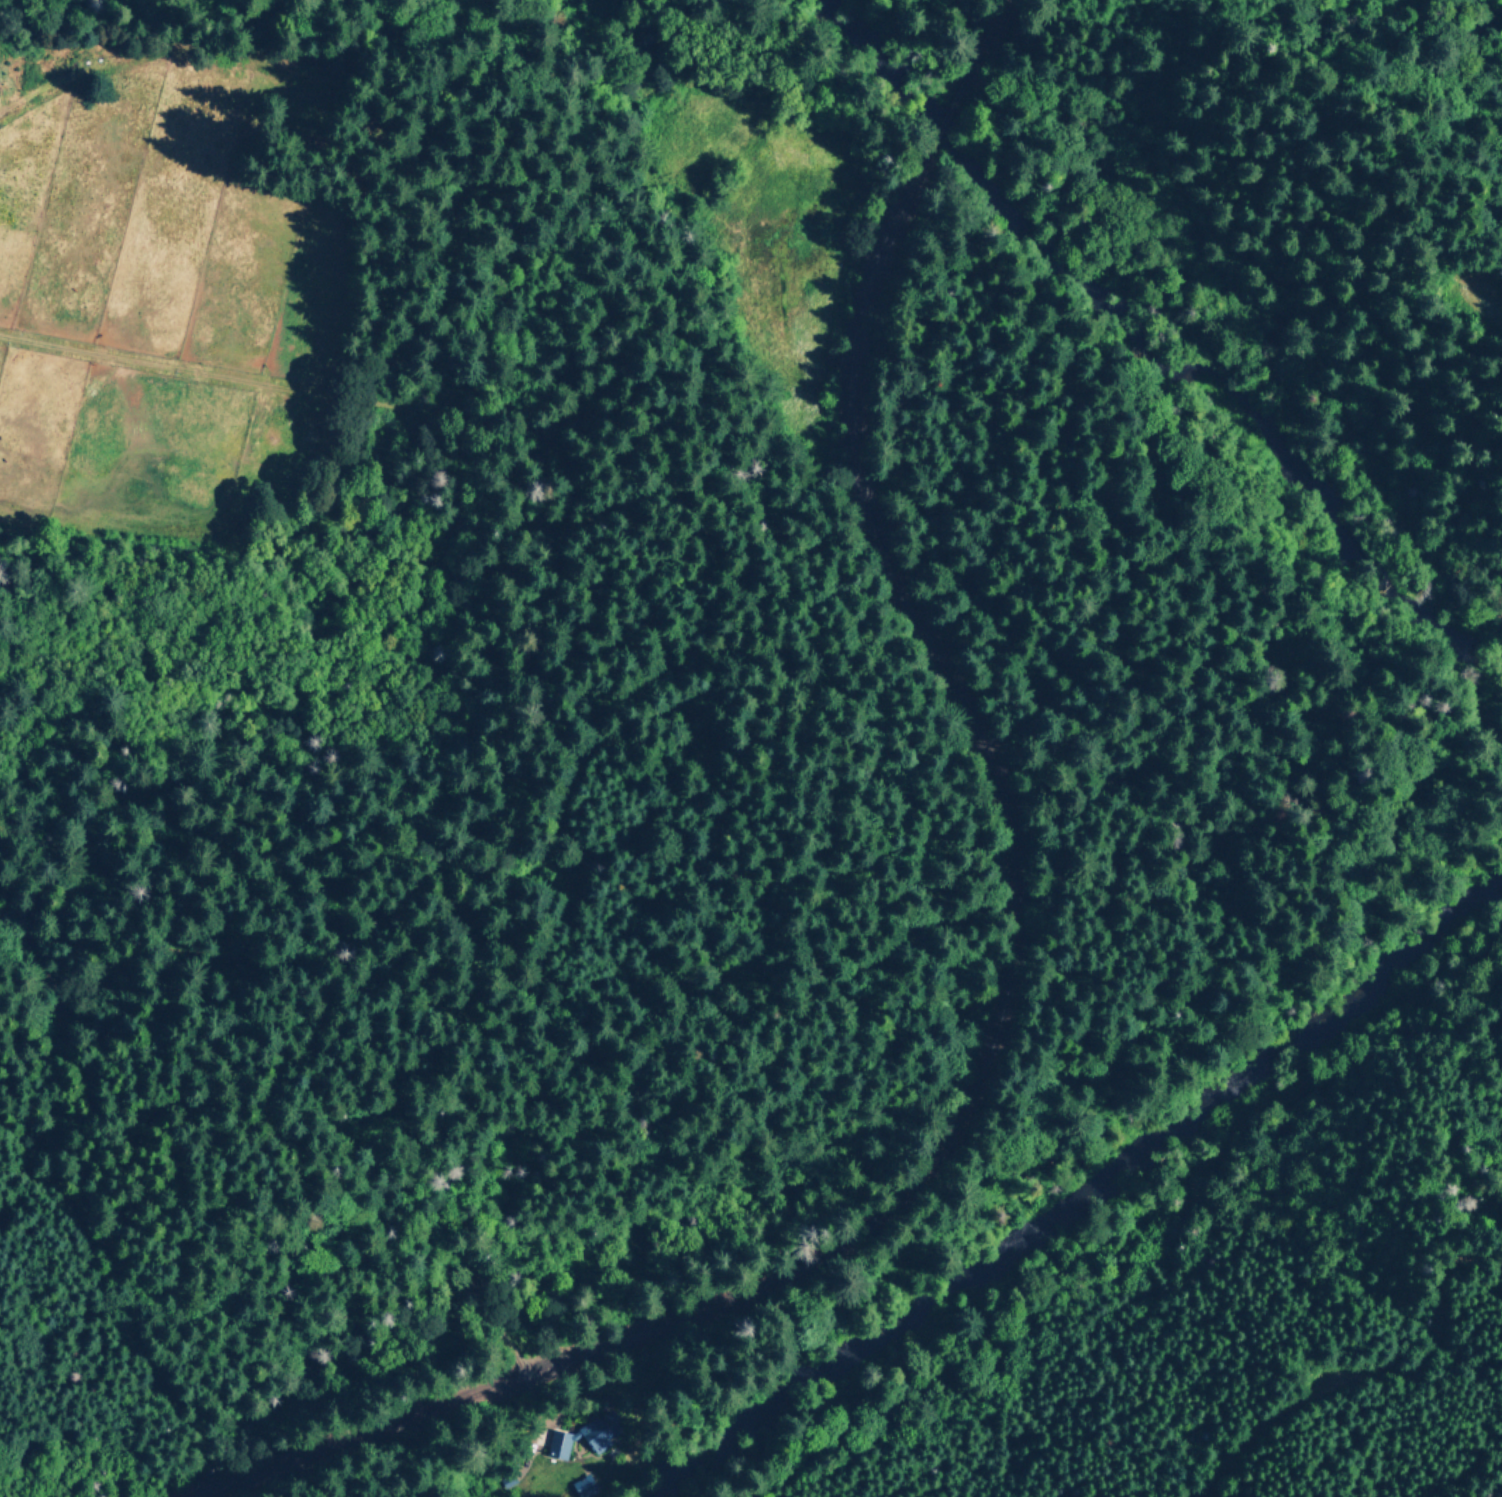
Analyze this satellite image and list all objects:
railway: (1004, 7)
railway: (982, 47)
river: (1214, 239)
railway: (1002, 999)
river: (1142, 1197)
road: (1449, 1286)
road: (1287, 1382)

